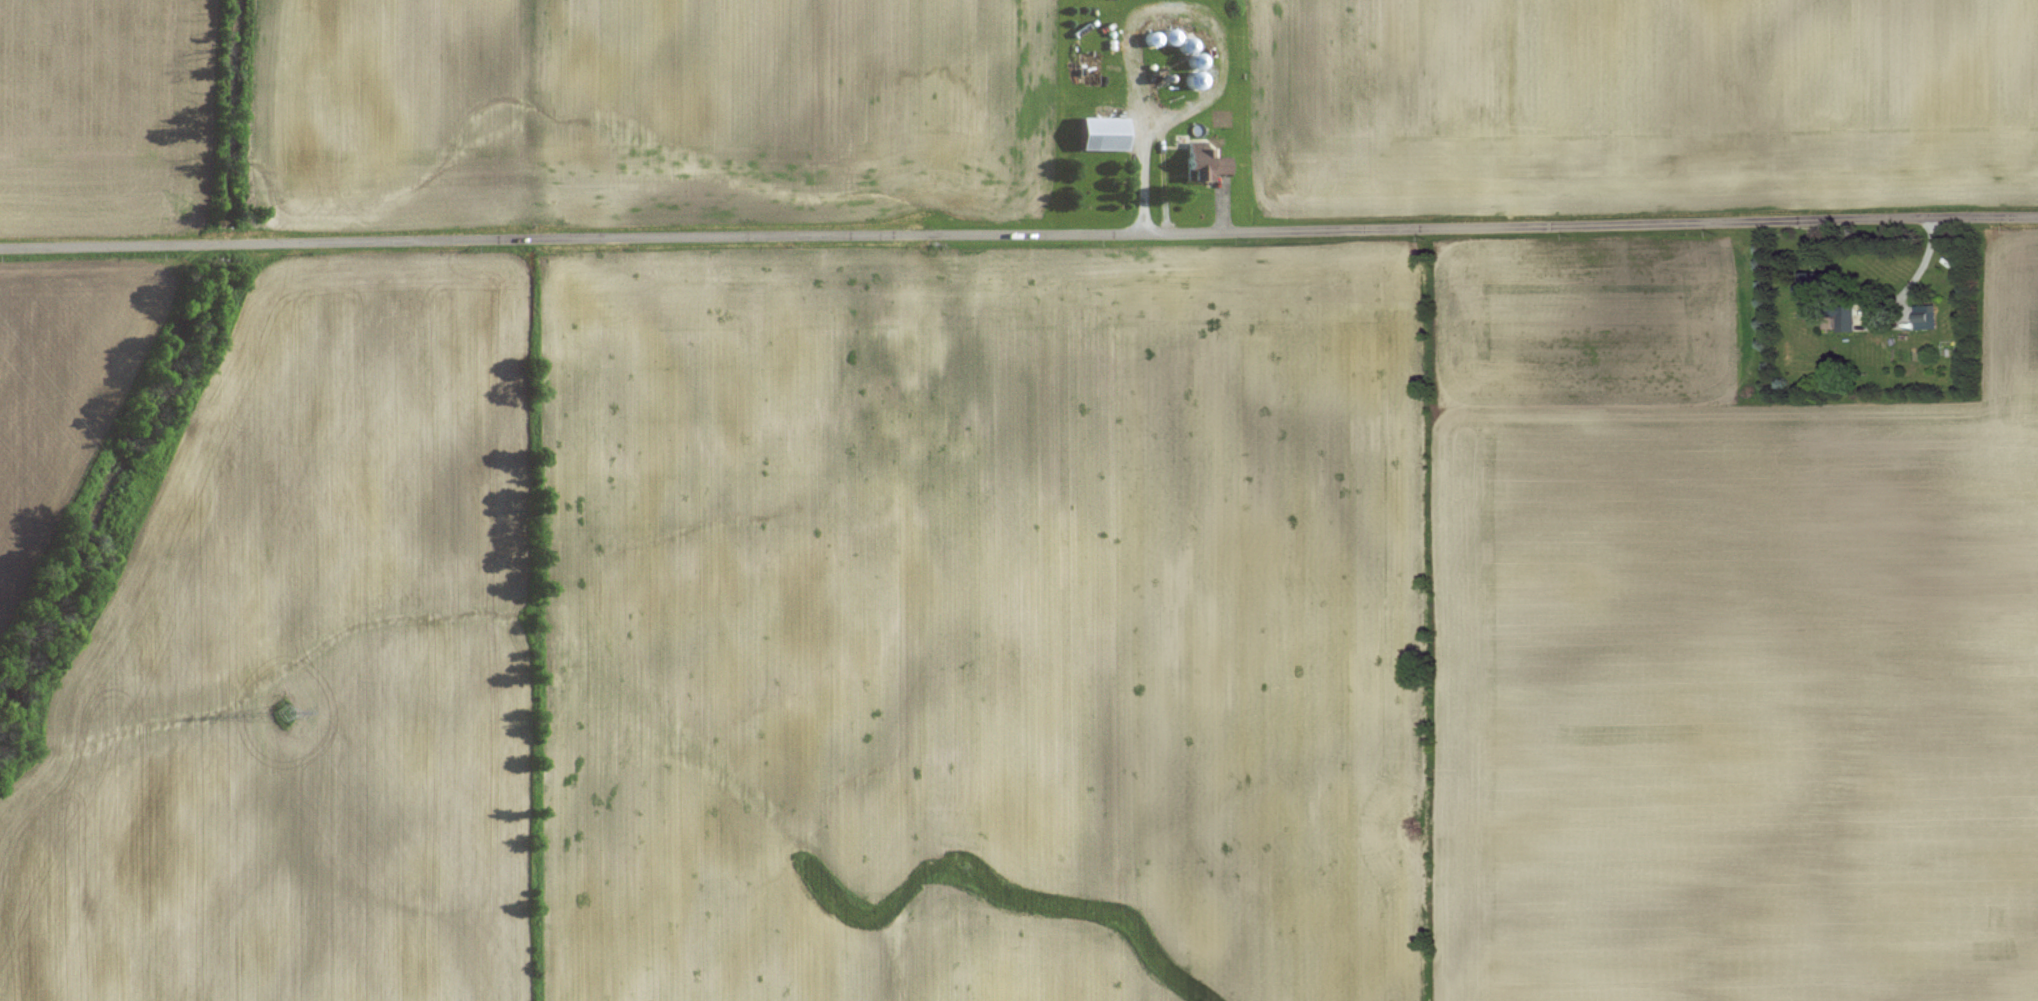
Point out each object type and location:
road: (1218, 48)
building: (1103, 135)
building: (1207, 166)
road: (1145, 174)
road: (1019, 235)
building: (1928, 322)
power tower: (283, 712)

